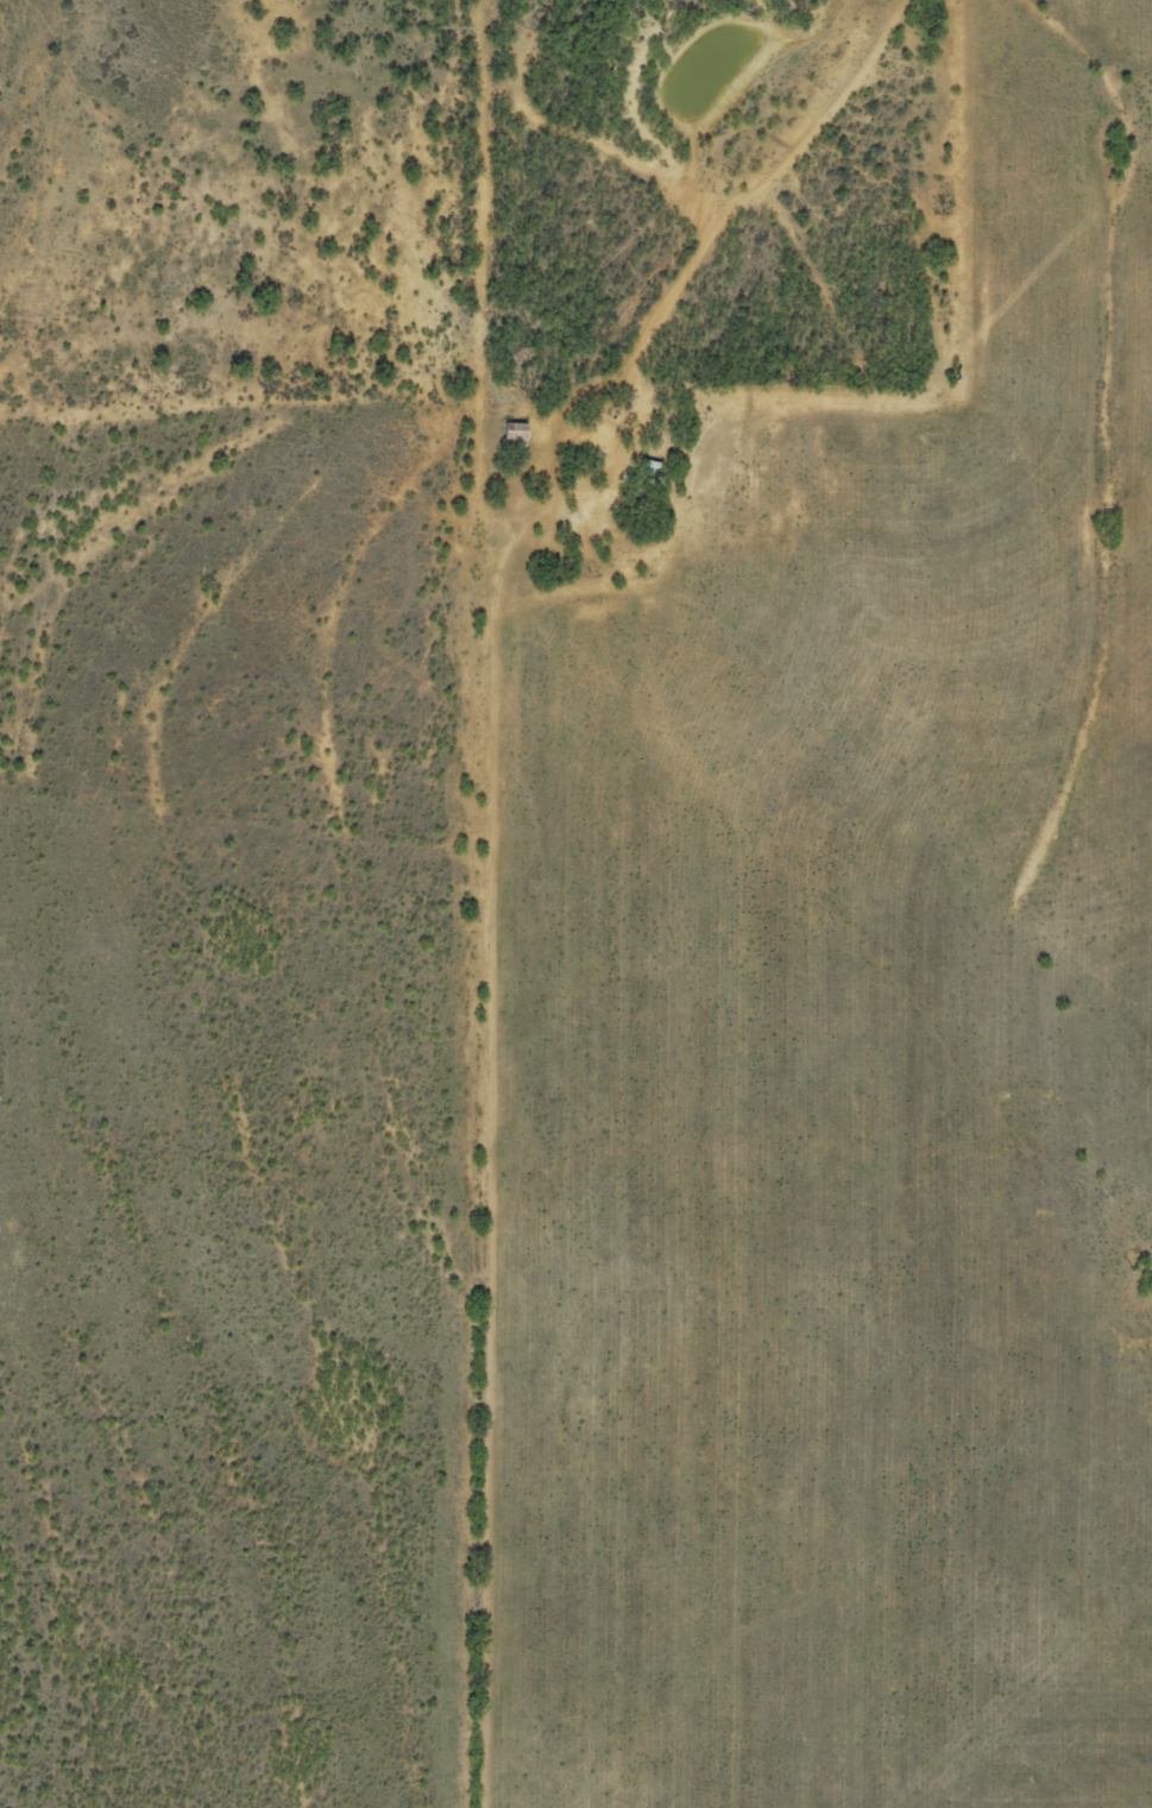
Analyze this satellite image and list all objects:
building: (506, 435)

